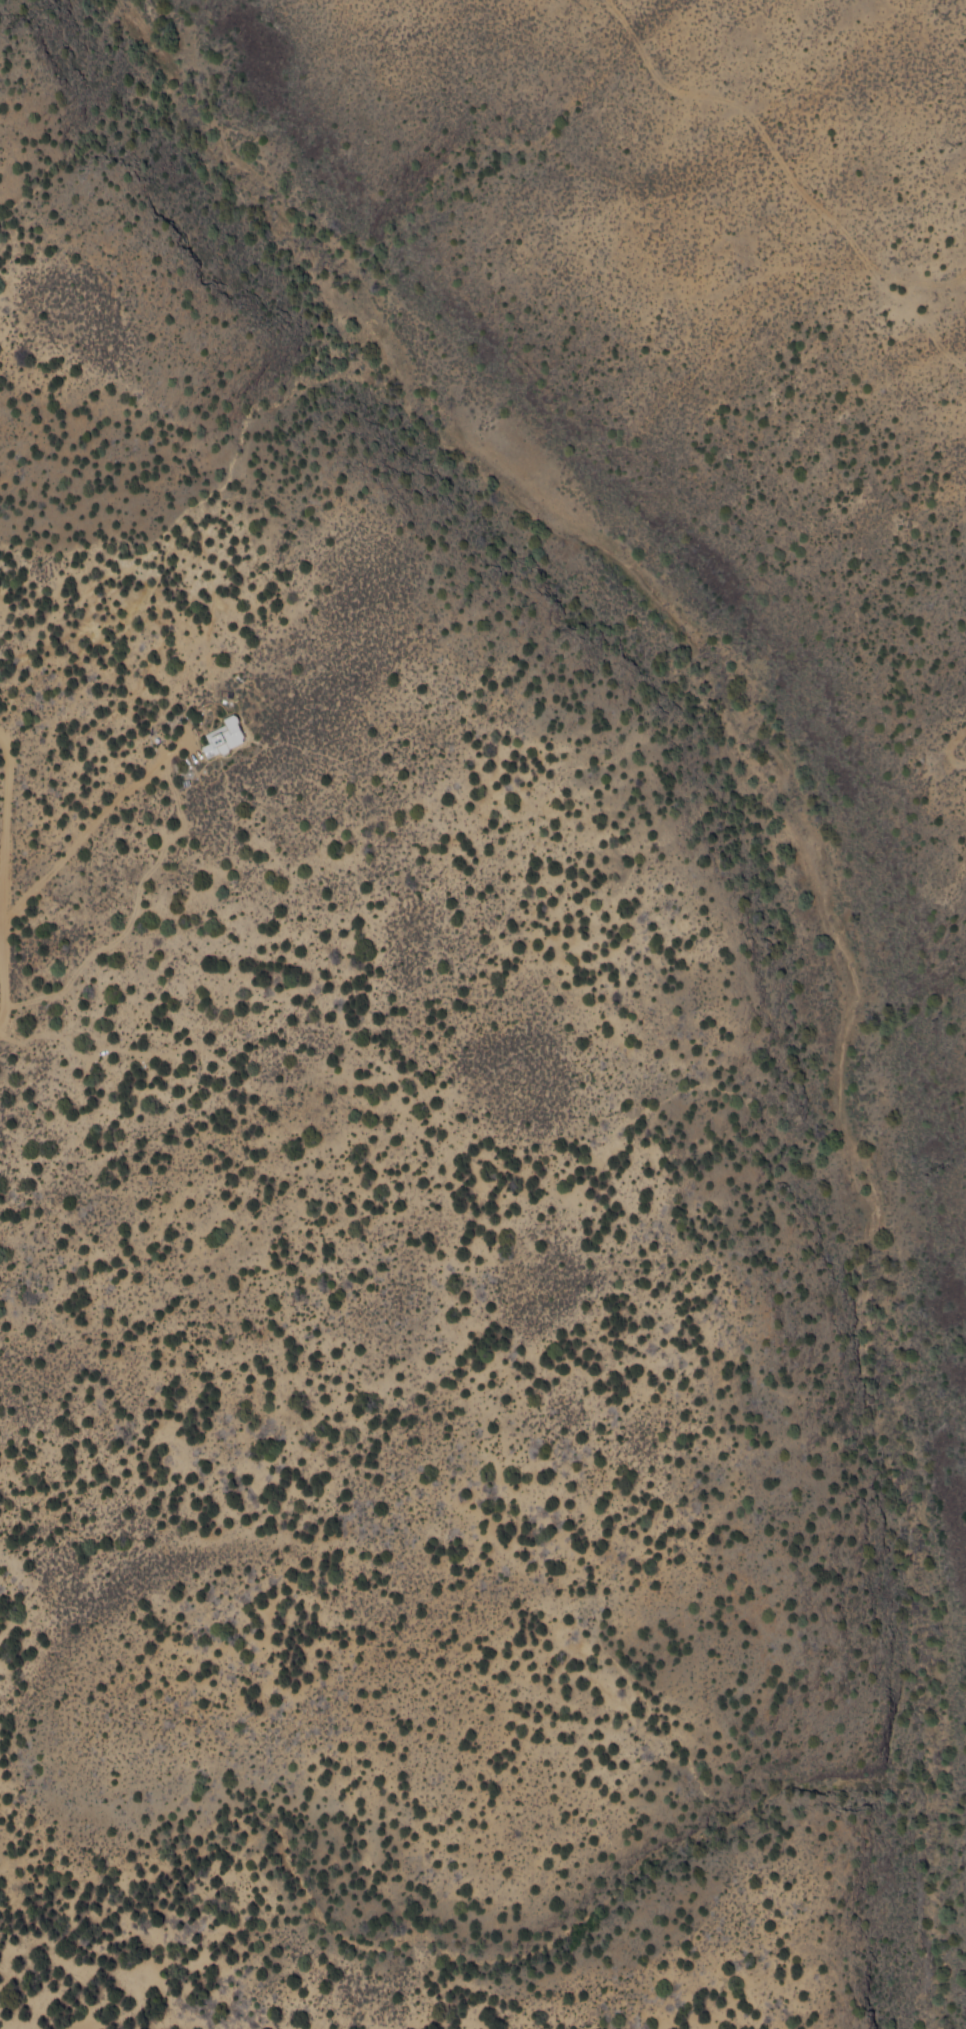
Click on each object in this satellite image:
road: (823, 220)
building: (222, 737)

